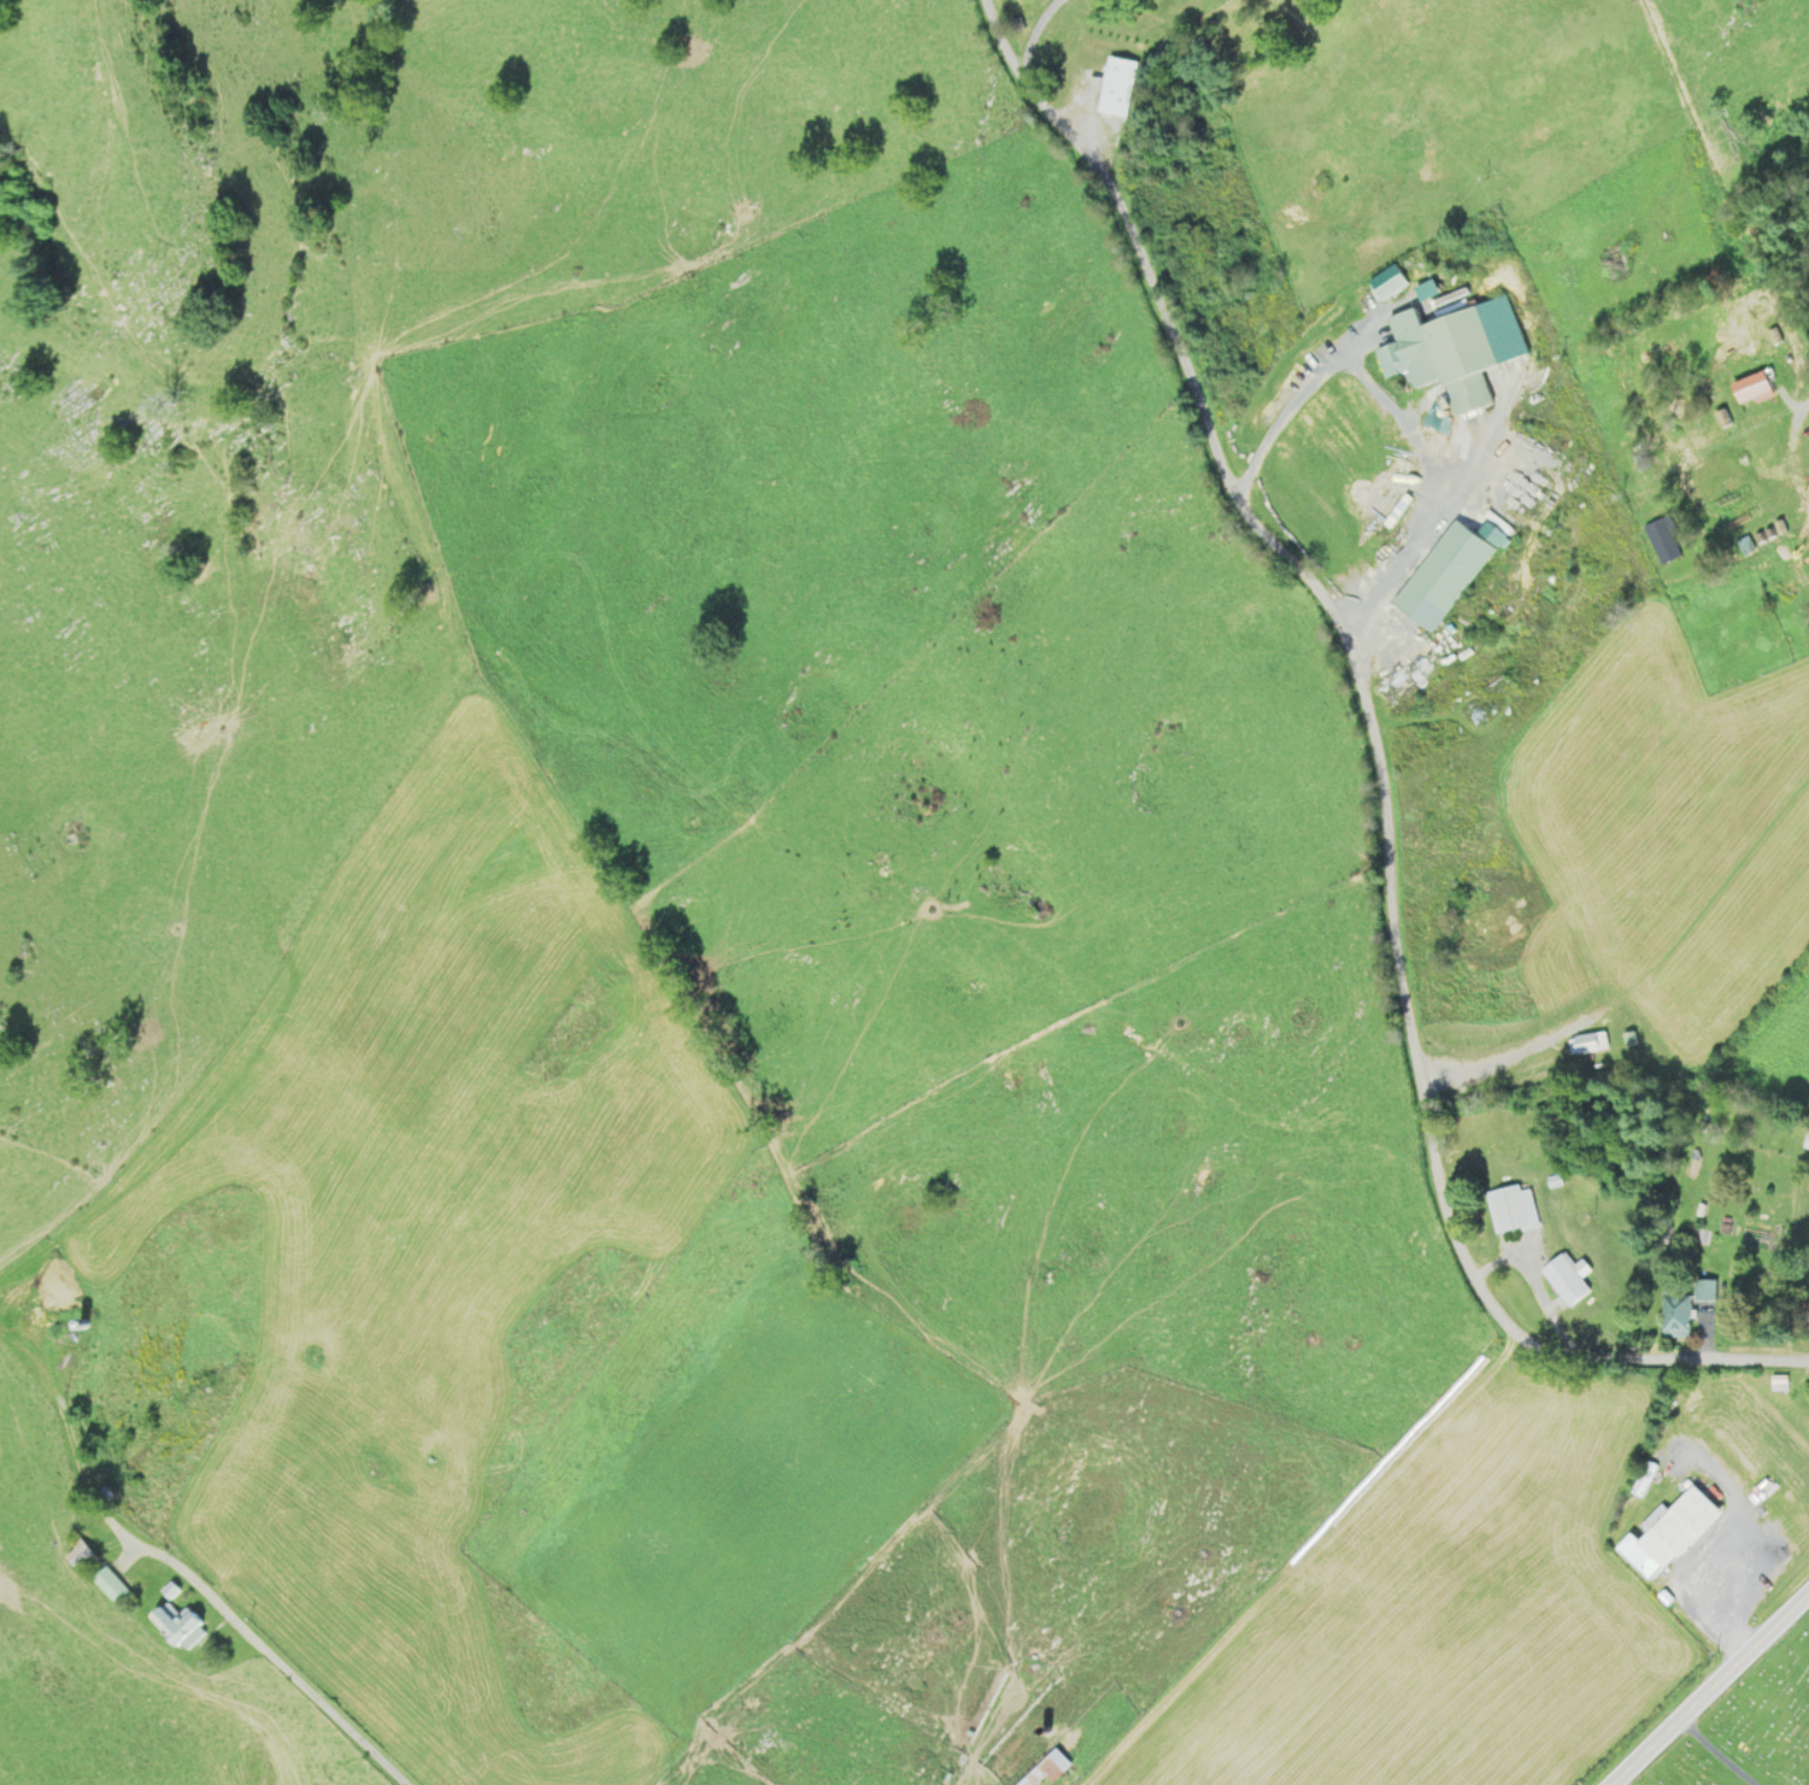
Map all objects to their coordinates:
building: (1116, 88)
building: (1392, 358)
building: (1461, 359)
building: (1423, 368)
building: (1750, 383)
road: (1300, 394)
road: (1438, 521)
building: (1661, 539)
building: (1443, 575)
road: (1381, 773)
building: (1588, 1044)
building: (1807, 1141)
building: (1511, 1210)
building: (1567, 1279)
building: (1705, 1291)
building: (1675, 1314)
building: (1644, 1482)
building: (1672, 1536)
building: (78, 1560)
building: (108, 1586)
road: (1798, 1607)
building: (174, 1625)
road: (271, 1658)
road: (1701, 1702)
park: (1750, 1726)
road: (1720, 1752)
building: (1023, 1763)

